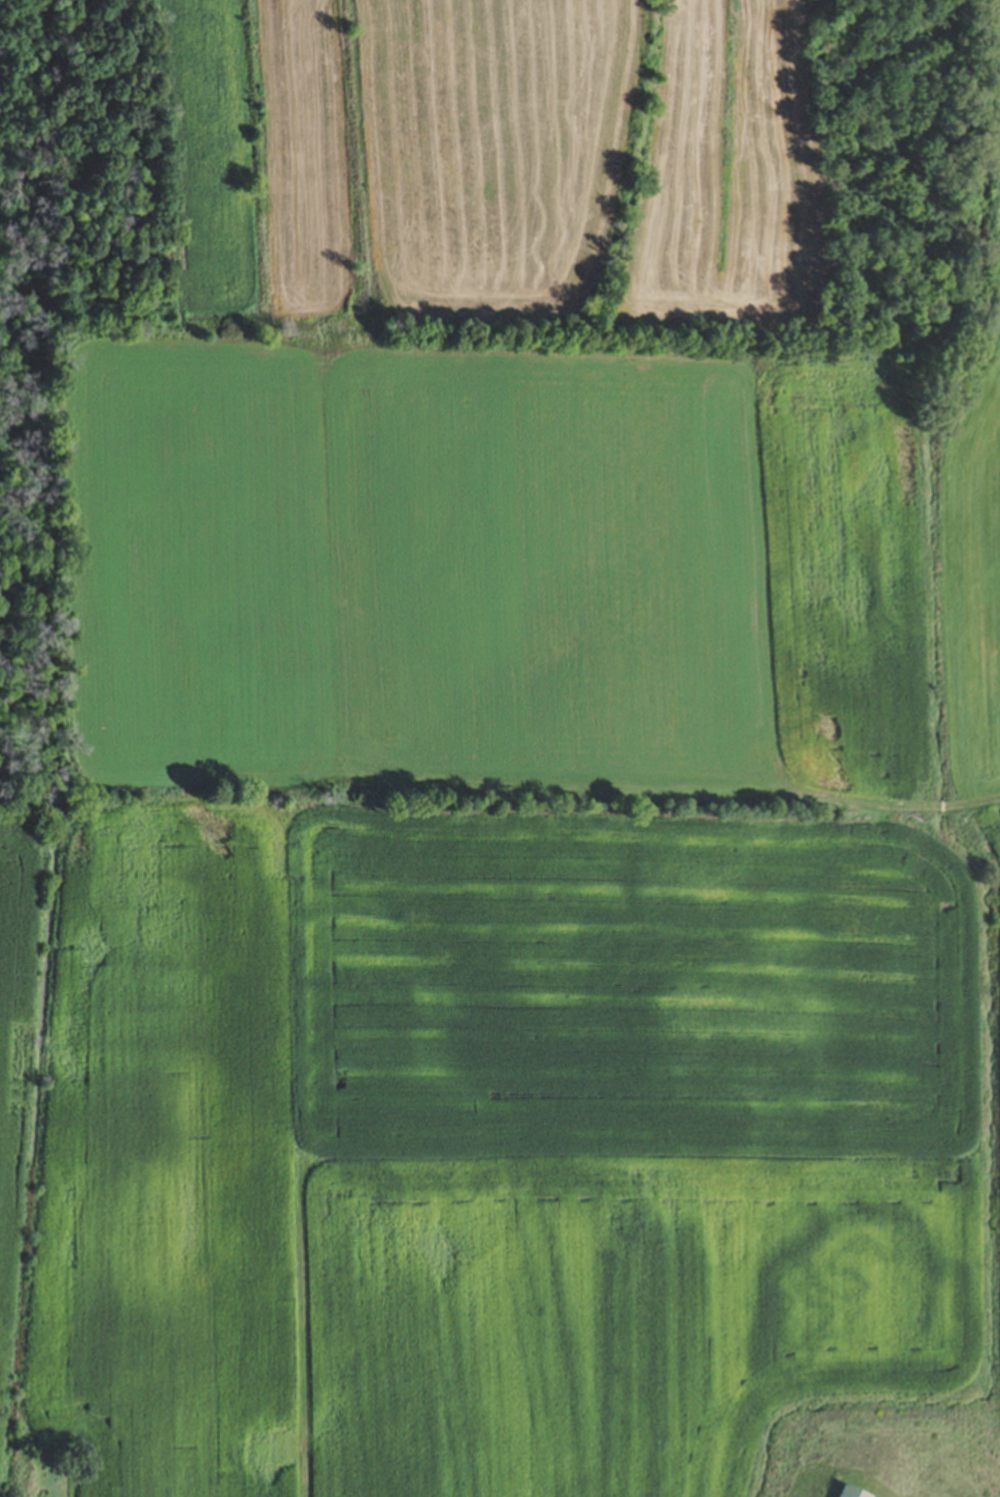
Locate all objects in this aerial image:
building: (841, 1493)

